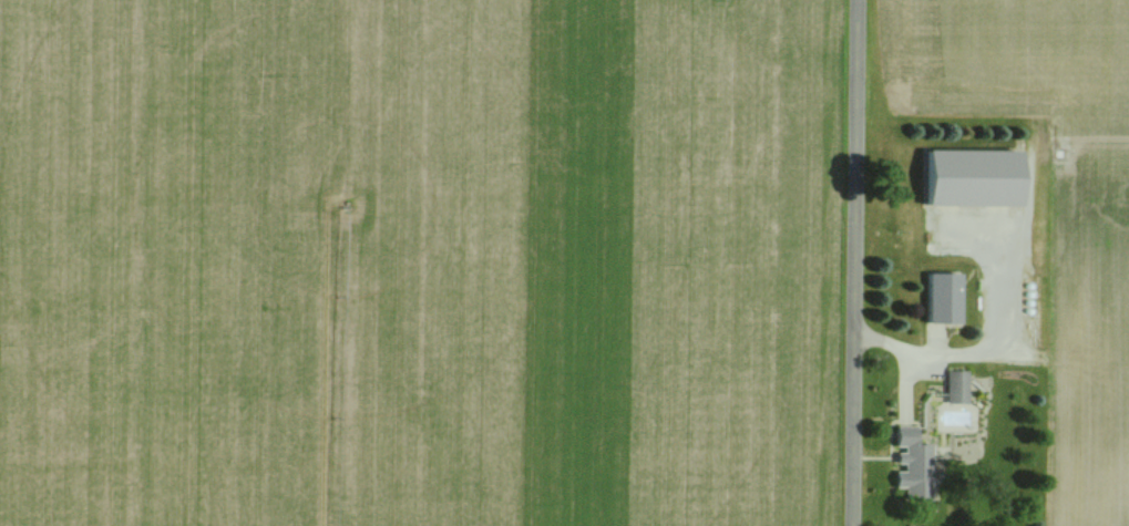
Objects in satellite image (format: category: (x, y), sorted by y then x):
building: (1012, 190)
road: (854, 262)
building: (941, 297)
road: (998, 324)
road: (907, 349)
building: (954, 386)
building: (911, 464)

